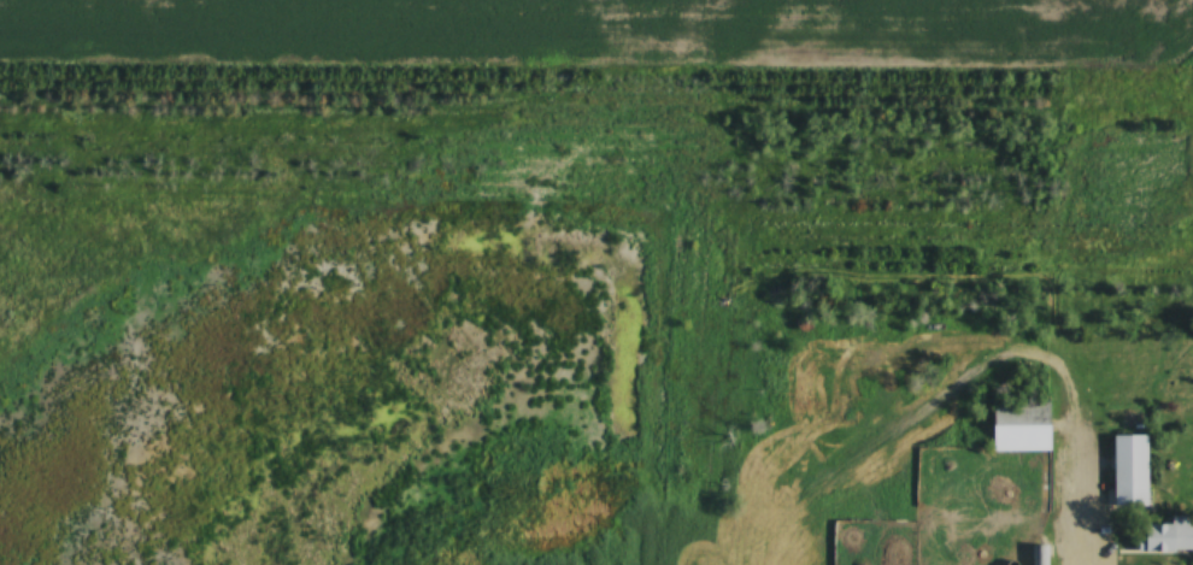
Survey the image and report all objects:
building: (1017, 425)
building: (1124, 469)
building: (1038, 553)

